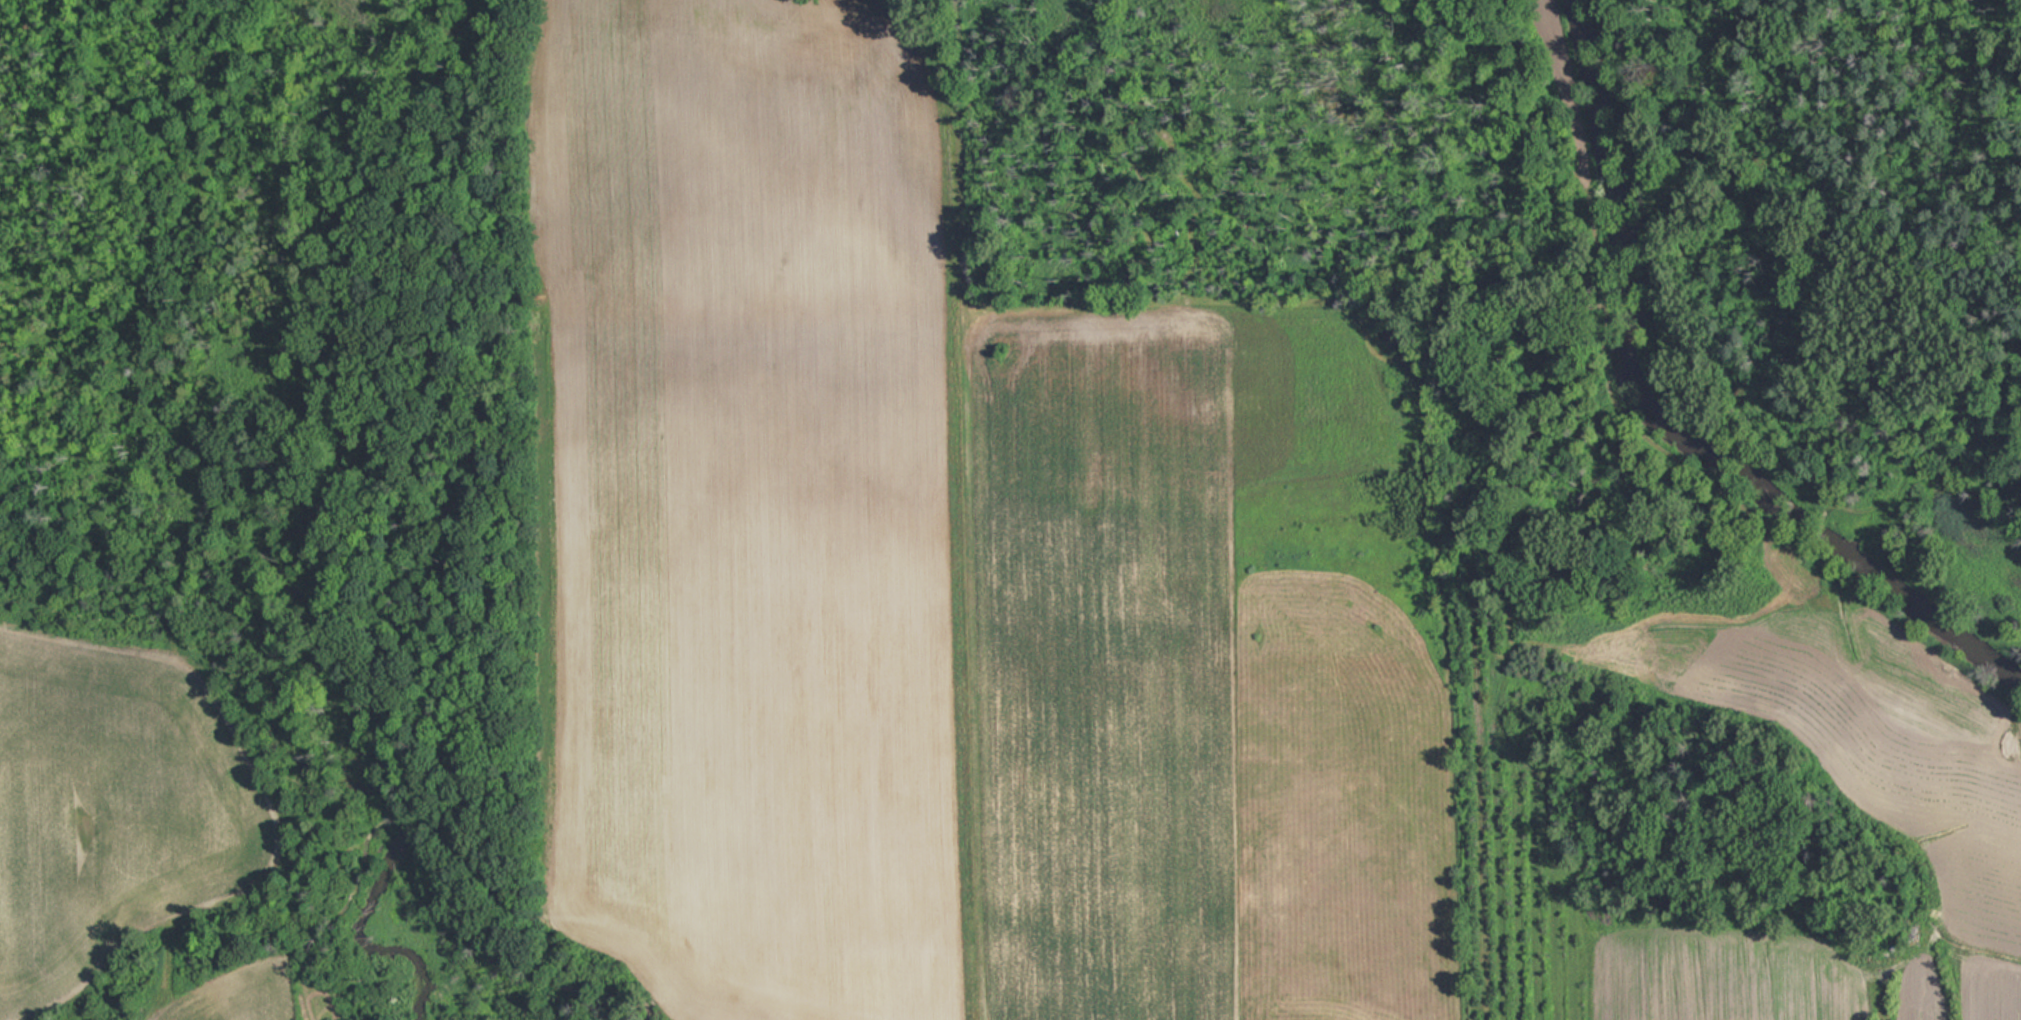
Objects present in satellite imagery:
river: (1664, 420)

